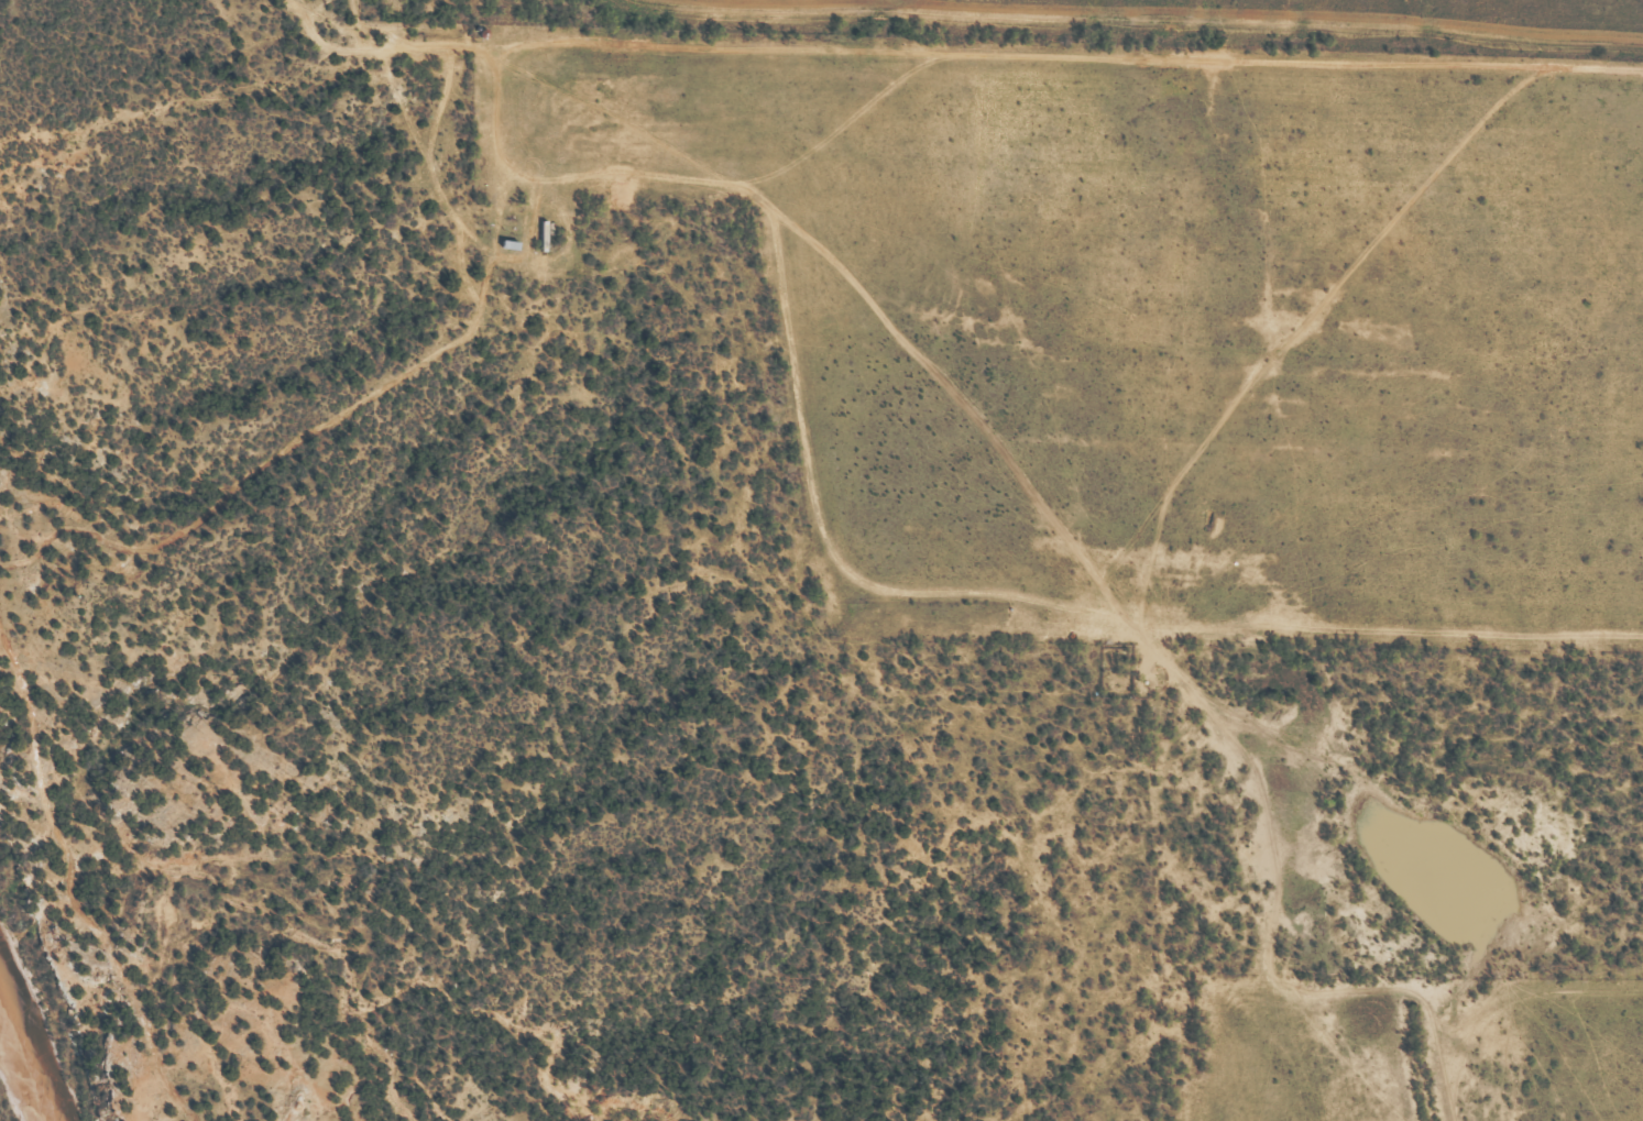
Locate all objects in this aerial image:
road: (948, 40)
river: (37, 1043)

